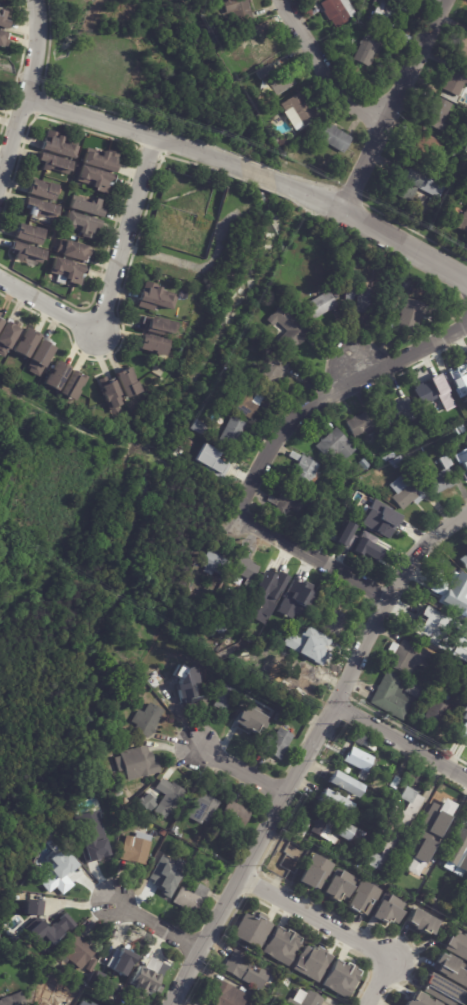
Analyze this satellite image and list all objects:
building: (237, 9)
building: (337, 11)
building: (383, 14)
building: (3, 21)
building: (3, 39)
building: (215, 41)
building: (405, 41)
building: (257, 43)
building: (462, 43)
building: (367, 50)
building: (218, 51)
road: (16, 67)
road: (324, 70)
building: (264, 73)
building: (455, 77)
building: (279, 83)
road: (27, 92)
building: (261, 102)
road: (393, 106)
building: (297, 111)
building: (436, 113)
building: (265, 114)
road: (133, 131)
building: (333, 138)
building: (57, 144)
building: (423, 146)
building: (454, 152)
building: (101, 159)
building: (54, 162)
building: (346, 163)
building: (463, 166)
road: (258, 173)
building: (95, 177)
building: (447, 178)
building: (405, 184)
building: (430, 186)
building: (42, 189)
building: (448, 192)
road: (309, 194)
building: (86, 205)
building: (39, 207)
building: (462, 221)
building: (81, 224)
building: (27, 233)
road: (404, 246)
building: (72, 249)
building: (27, 251)
building: (66, 270)
building: (44, 279)
building: (400, 286)
road: (110, 289)
building: (348, 291)
building: (154, 297)
building: (364, 300)
building: (295, 304)
building: (320, 304)
building: (0, 312)
building: (410, 313)
building: (2, 318)
building: (0, 322)
building: (160, 326)
building: (286, 329)
building: (7, 334)
building: (24, 341)
building: (151, 343)
building: (39, 356)
road: (360, 370)
building: (272, 372)
building: (458, 374)
building: (54, 375)
building: (126, 382)
building: (72, 385)
building: (429, 390)
building: (109, 394)
road: (329, 395)
building: (247, 399)
building: (397, 410)
building: (362, 422)
building: (196, 426)
building: (229, 432)
building: (394, 436)
building: (335, 444)
building: (389, 458)
building: (463, 459)
building: (212, 460)
building: (396, 461)
building: (364, 464)
building: (465, 467)
building: (303, 471)
building: (367, 477)
building: (441, 481)
building: (354, 487)
building: (407, 491)
building: (364, 492)
building: (284, 500)
building: (325, 500)
building: (331, 504)
building: (315, 507)
building: (377, 514)
building: (344, 534)
building: (366, 545)
building: (464, 554)
road: (311, 555)
building: (212, 561)
building: (243, 568)
building: (272, 579)
building: (246, 583)
building: (454, 585)
building: (299, 591)
building: (334, 623)
building: (427, 625)
building: (218, 627)
building: (296, 632)
building: (181, 641)
building: (285, 643)
building: (189, 646)
building: (461, 646)
building: (320, 648)
building: (403, 656)
building: (286, 659)
building: (451, 668)
building: (305, 676)
building: (421, 679)
building: (414, 690)
building: (392, 696)
building: (182, 698)
building: (223, 698)
building: (434, 714)
building: (276, 718)
building: (146, 720)
building: (461, 722)
building: (246, 724)
road: (401, 741)
building: (124, 743)
building: (273, 743)
road: (308, 750)
building: (358, 760)
building: (136, 763)
road: (242, 771)
building: (394, 782)
building: (343, 785)
building: (119, 794)
building: (171, 799)
building: (146, 800)
building: (124, 801)
building: (333, 802)
building: (137, 805)
building: (201, 809)
building: (234, 815)
building: (443, 817)
building: (115, 818)
building: (329, 828)
building: (429, 828)
building: (298, 829)
building: (174, 830)
building: (391, 830)
building: (116, 833)
building: (162, 833)
building: (177, 833)
building: (356, 836)
building: (426, 836)
building: (169, 837)
building: (435, 838)
building: (191, 841)
building: (135, 848)
building: (93, 849)
building: (190, 849)
building: (58, 854)
building: (418, 856)
building: (39, 861)
building: (456, 861)
building: (199, 863)
building: (167, 871)
building: (313, 872)
building: (60, 876)
building: (337, 885)
building: (361, 898)
building: (189, 899)
building: (32, 907)
building: (387, 909)
building: (59, 916)
road: (314, 917)
building: (420, 921)
road: (155, 925)
building: (47, 930)
building: (251, 930)
building: (282, 946)
building: (456, 946)
building: (77, 952)
building: (311, 963)
building: (118, 965)
building: (236, 965)
building: (449, 969)
building: (148, 970)
building: (340, 978)
road: (376, 981)
building: (141, 986)
building: (443, 990)
building: (226, 995)
building: (123, 996)
building: (107, 997)
building: (310, 999)
building: (12, 1000)
building: (419, 1000)
building: (52, 1001)
building: (262, 1001)
building: (81, 1003)

